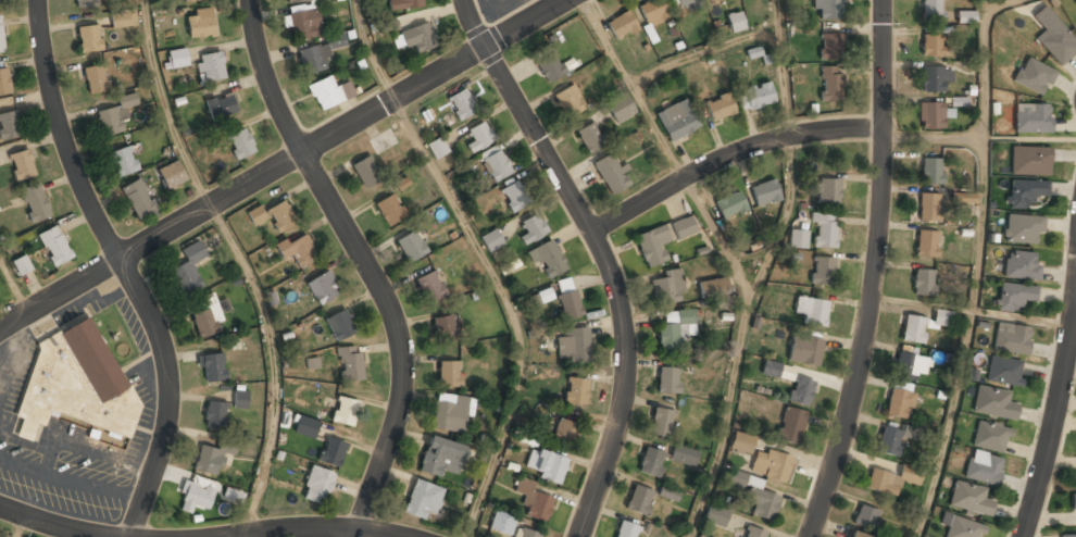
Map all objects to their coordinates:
building: (195, 0)
building: (296, 1)
building: (685, 2)
building: (84, 3)
building: (404, 4)
parking lot: (500, 7)
building: (827, 10)
building: (931, 11)
building: (651, 12)
building: (965, 17)
building: (123, 20)
building: (735, 22)
building: (200, 24)
building: (304, 24)
building: (621, 25)
building: (1, 37)
building: (418, 37)
building: (1053, 37)
building: (88, 39)
building: (934, 45)
building: (830, 47)
road: (703, 50)
road: (370, 51)
building: (178, 59)
building: (313, 59)
building: (549, 66)
building: (211, 67)
building: (1034, 76)
building: (93, 79)
building: (934, 79)
building: (3, 82)
building: (830, 83)
building: (325, 92)
building: (756, 96)
building: (568, 101)
building: (461, 104)
building: (221, 105)
road: (166, 107)
building: (720, 107)
building: (621, 109)
building: (930, 115)
building: (113, 117)
building: (1031, 118)
building: (677, 121)
building: (9, 126)
road: (342, 129)
building: (478, 137)
building: (590, 138)
building: (383, 141)
building: (240, 143)
road: (666, 147)
building: (437, 148)
road: (792, 150)
road: (729, 157)
building: (123, 161)
building: (1029, 161)
building: (22, 164)
building: (495, 164)
building: (931, 171)
building: (365, 173)
building: (171, 174)
building: (610, 174)
building: (828, 191)
building: (764, 192)
building: (1025, 192)
building: (514, 197)
building: (963, 198)
building: (138, 200)
building: (34, 201)
building: (729, 204)
building: (928, 207)
building: (389, 210)
building: (257, 215)
building: (280, 216)
building: (684, 227)
building: (1023, 227)
building: (531, 229)
building: (825, 229)
building: (798, 238)
building: (491, 240)
building: (926, 243)
building: (53, 245)
building: (652, 245)
building: (411, 247)
building: (298, 250)
road: (603, 255)
building: (549, 260)
road: (365, 261)
road: (975, 263)
building: (22, 264)
building: (1021, 264)
road: (123, 268)
building: (188, 268)
building: (822, 270)
road: (874, 272)
building: (923, 282)
road: (12, 286)
building: (667, 286)
building: (429, 287)
building: (713, 287)
building: (323, 288)
road: (55, 291)
building: (1014, 295)
building: (542, 296)
building: (567, 299)
road: (508, 309)
building: (811, 309)
building: (205, 316)
building: (942, 317)
building: (340, 324)
building: (443, 328)
building: (672, 328)
building: (914, 329)
building: (1012, 338)
building: (573, 345)
building: (803, 349)
building: (93, 359)
building: (350, 362)
building: (312, 363)
road: (272, 364)
building: (909, 366)
building: (213, 367)
building: (777, 371)
building: (1004, 371)
building: (449, 375)
building: (667, 379)
building: (800, 390)
building: (576, 391)
building: (240, 399)
building: (899, 402)
building: (994, 403)
building: (345, 411)
building: (32, 413)
building: (449, 413)
building: (214, 415)
road: (1054, 415)
road: (726, 416)
building: (661, 422)
building: (790, 425)
building: (305, 427)
building: (565, 433)
building: (990, 436)
building: (889, 441)
building: (741, 444)
building: (331, 452)
building: (684, 455)
building: (440, 457)
building: (209, 459)
building: (651, 462)
building: (546, 465)
building: (772, 465)
building: (984, 467)
building: (737, 478)
building: (891, 480)
building: (317, 485)
building: (667, 494)
building: (232, 495)
building: (193, 498)
building: (423, 499)
building: (969, 499)
building: (639, 500)
building: (533, 501)
building: (1073, 502)
building: (762, 503)
building: (865, 516)
building: (716, 517)
building: (501, 524)
road: (55, 526)
building: (960, 526)
road: (16, 527)
road: (311, 527)
building: (626, 529)
building: (753, 533)
building: (527, 534)
road: (243, 535)
building: (855, 535)
building: (1067, 536)

